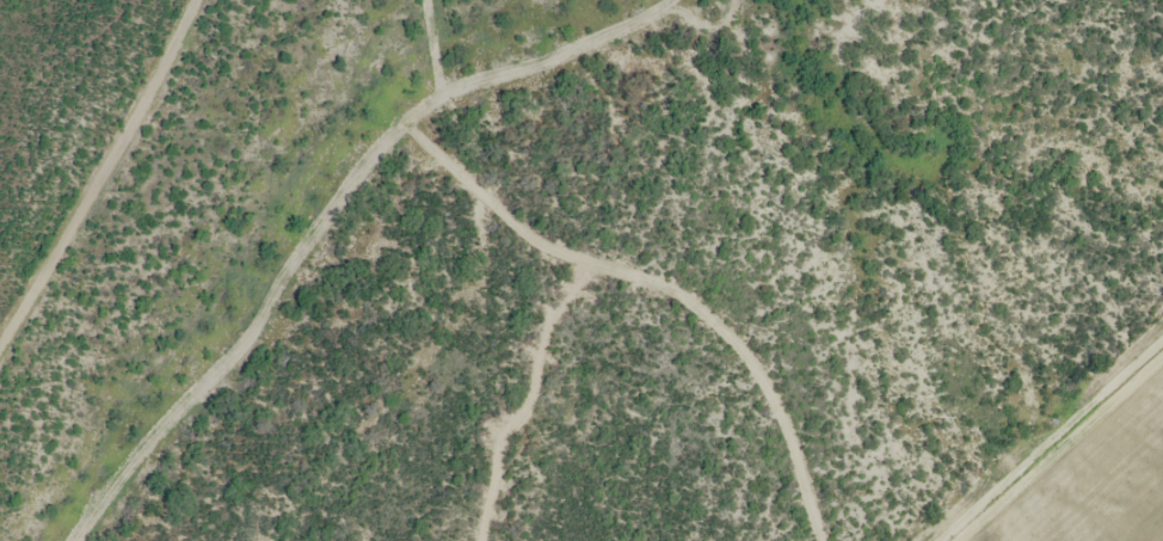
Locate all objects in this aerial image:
road: (26, 51)
road: (100, 174)
road: (667, 289)
road: (530, 405)

